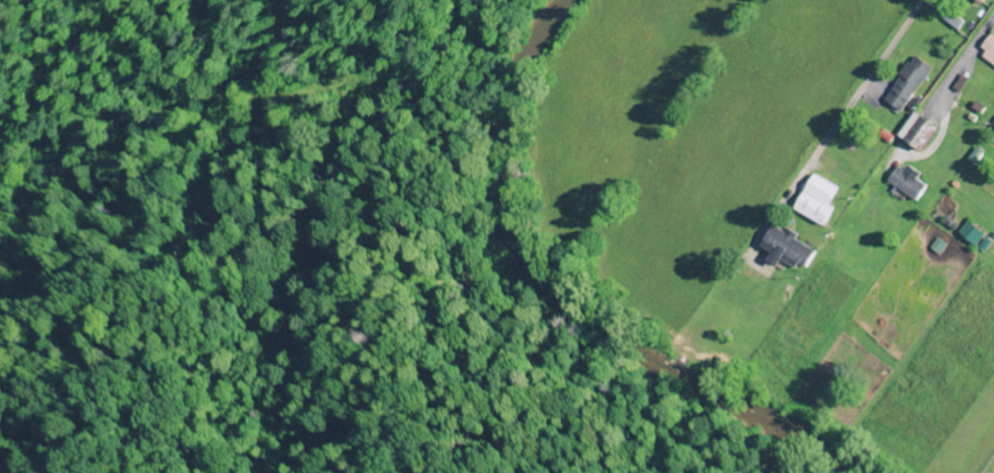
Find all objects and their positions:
building: (982, 1)
building: (911, 83)
building: (922, 131)
building: (910, 181)
building: (819, 200)
building: (790, 249)

